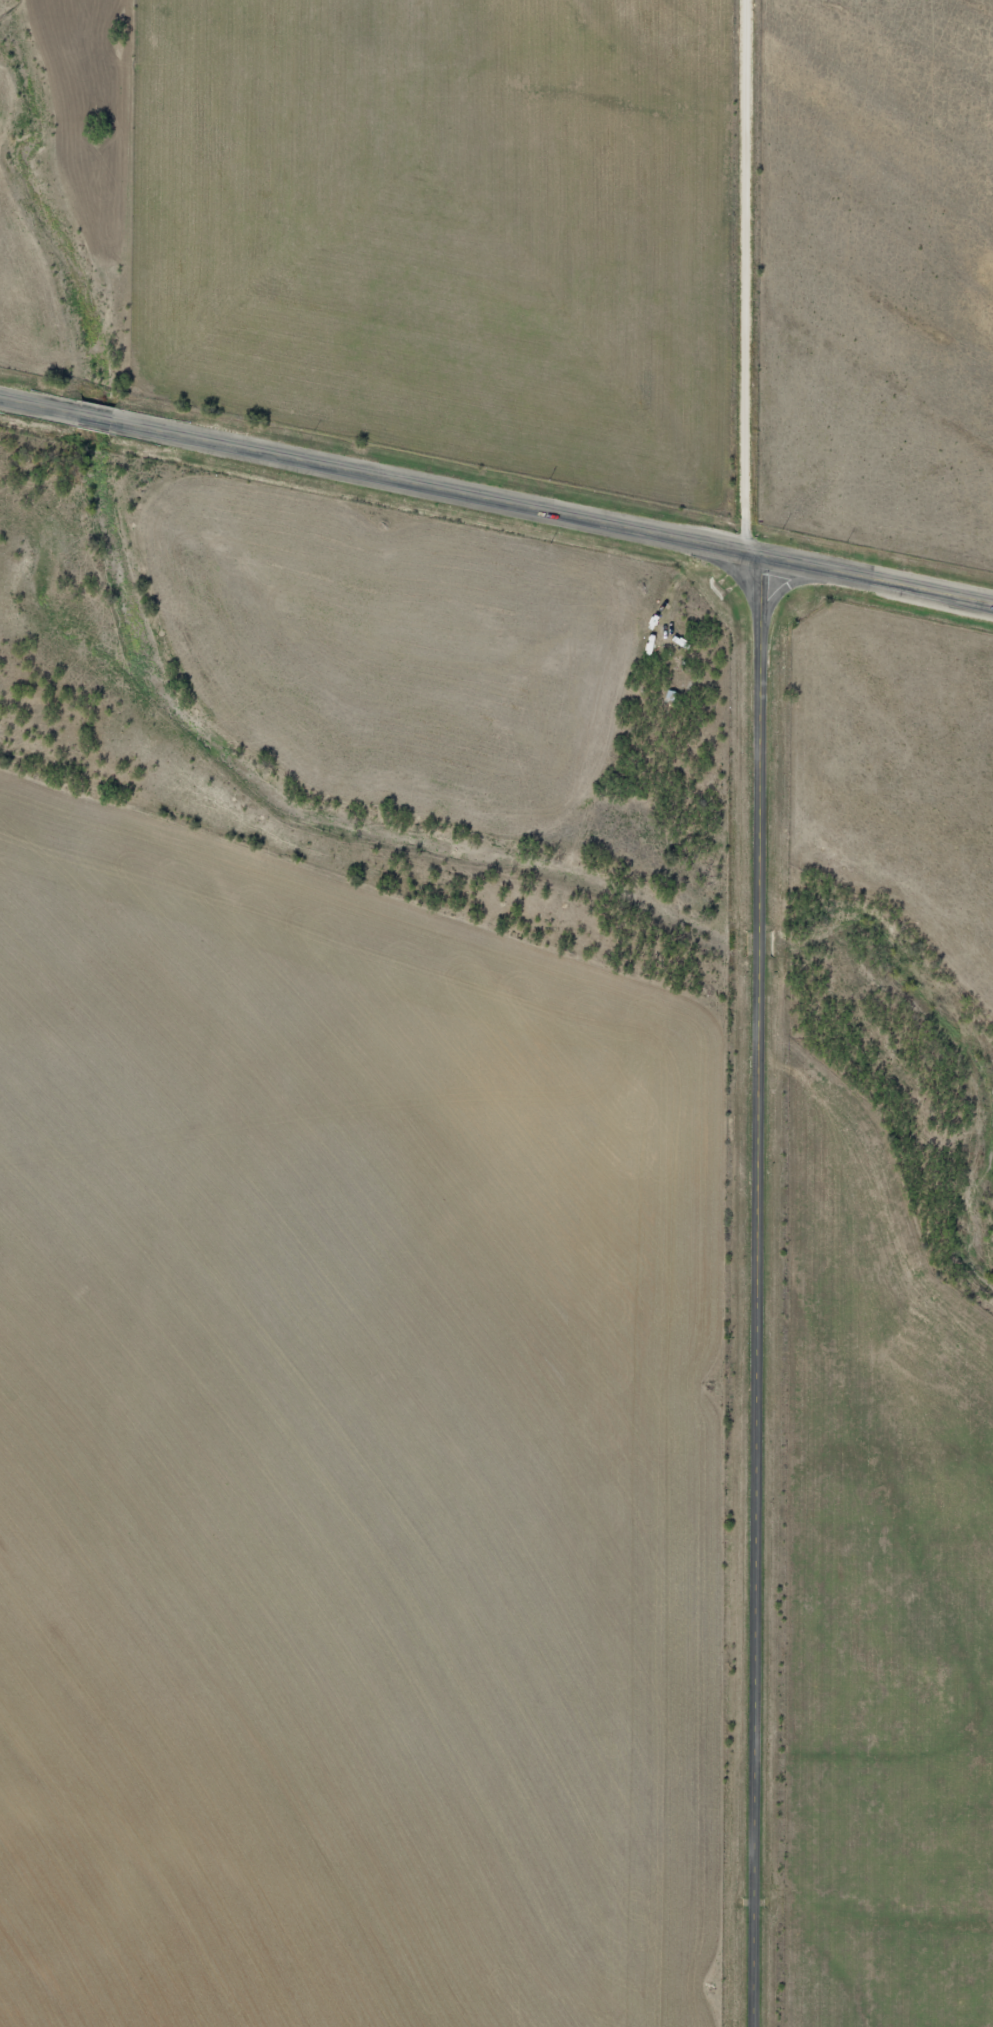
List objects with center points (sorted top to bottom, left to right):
road: (751, 274)
road: (496, 502)
road: (759, 1287)

